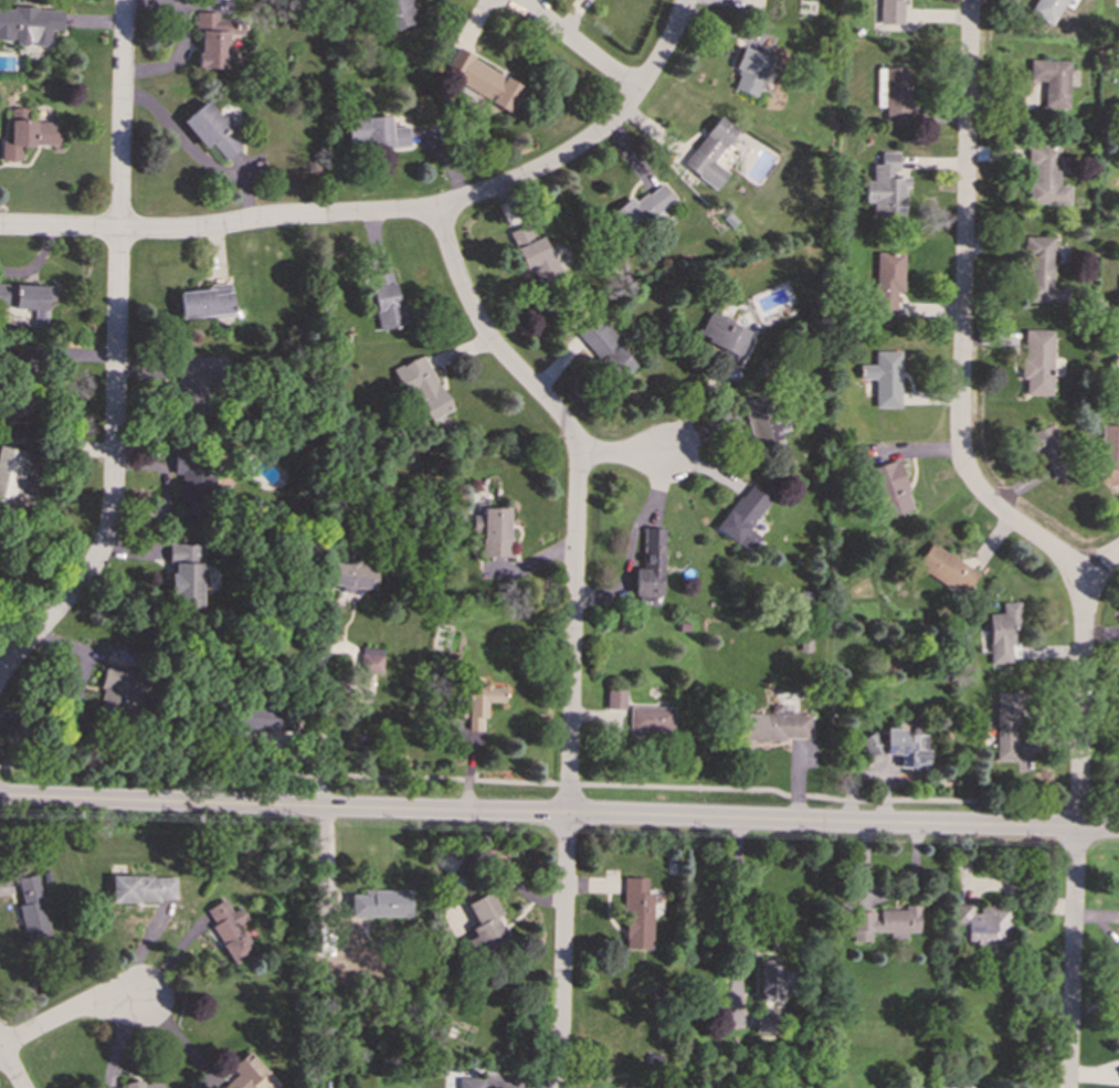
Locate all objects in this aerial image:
building: (1047, 9)
building: (891, 11)
building: (399, 13)
building: (29, 24)
building: (215, 38)
road: (577, 44)
building: (749, 71)
building: (484, 80)
building: (1051, 81)
building: (893, 93)
building: (211, 129)
building: (374, 131)
building: (32, 137)
building: (709, 152)
road: (548, 166)
building: (1043, 176)
building: (886, 187)
building: (640, 209)
road: (228, 225)
road: (60, 228)
building: (532, 253)
building: (1039, 273)
building: (886, 283)
building: (28, 298)
building: (204, 302)
building: (387, 302)
road: (961, 315)
building: (724, 335)
building: (606, 349)
road: (116, 355)
building: (1116, 355)
building: (1036, 361)
building: (196, 377)
building: (884, 378)
building: (422, 389)
building: (761, 422)
building: (1109, 445)
building: (1047, 450)
road: (622, 451)
building: (11, 474)
building: (191, 480)
building: (888, 488)
building: (741, 517)
building: (493, 531)
road: (1100, 563)
building: (650, 564)
building: (947, 569)
building: (353, 574)
building: (184, 575)
road: (572, 627)
building: (1002, 633)
building: (370, 663)
building: (123, 690)
building: (614, 699)
building: (482, 704)
building: (650, 718)
building: (265, 719)
road: (325, 725)
building: (772, 726)
building: (1010, 731)
building: (905, 748)
road: (559, 783)
road: (559, 814)
road: (1076, 832)
building: (142, 888)
building: (379, 904)
building: (32, 908)
road: (740, 909)
building: (637, 913)
building: (884, 922)
building: (486, 923)
building: (985, 925)
building: (230, 930)
road: (172, 961)
building: (771, 981)
road: (71, 1013)
building: (766, 1022)
road: (10, 1066)
building: (250, 1074)
building: (474, 1082)
building: (139, 1085)

